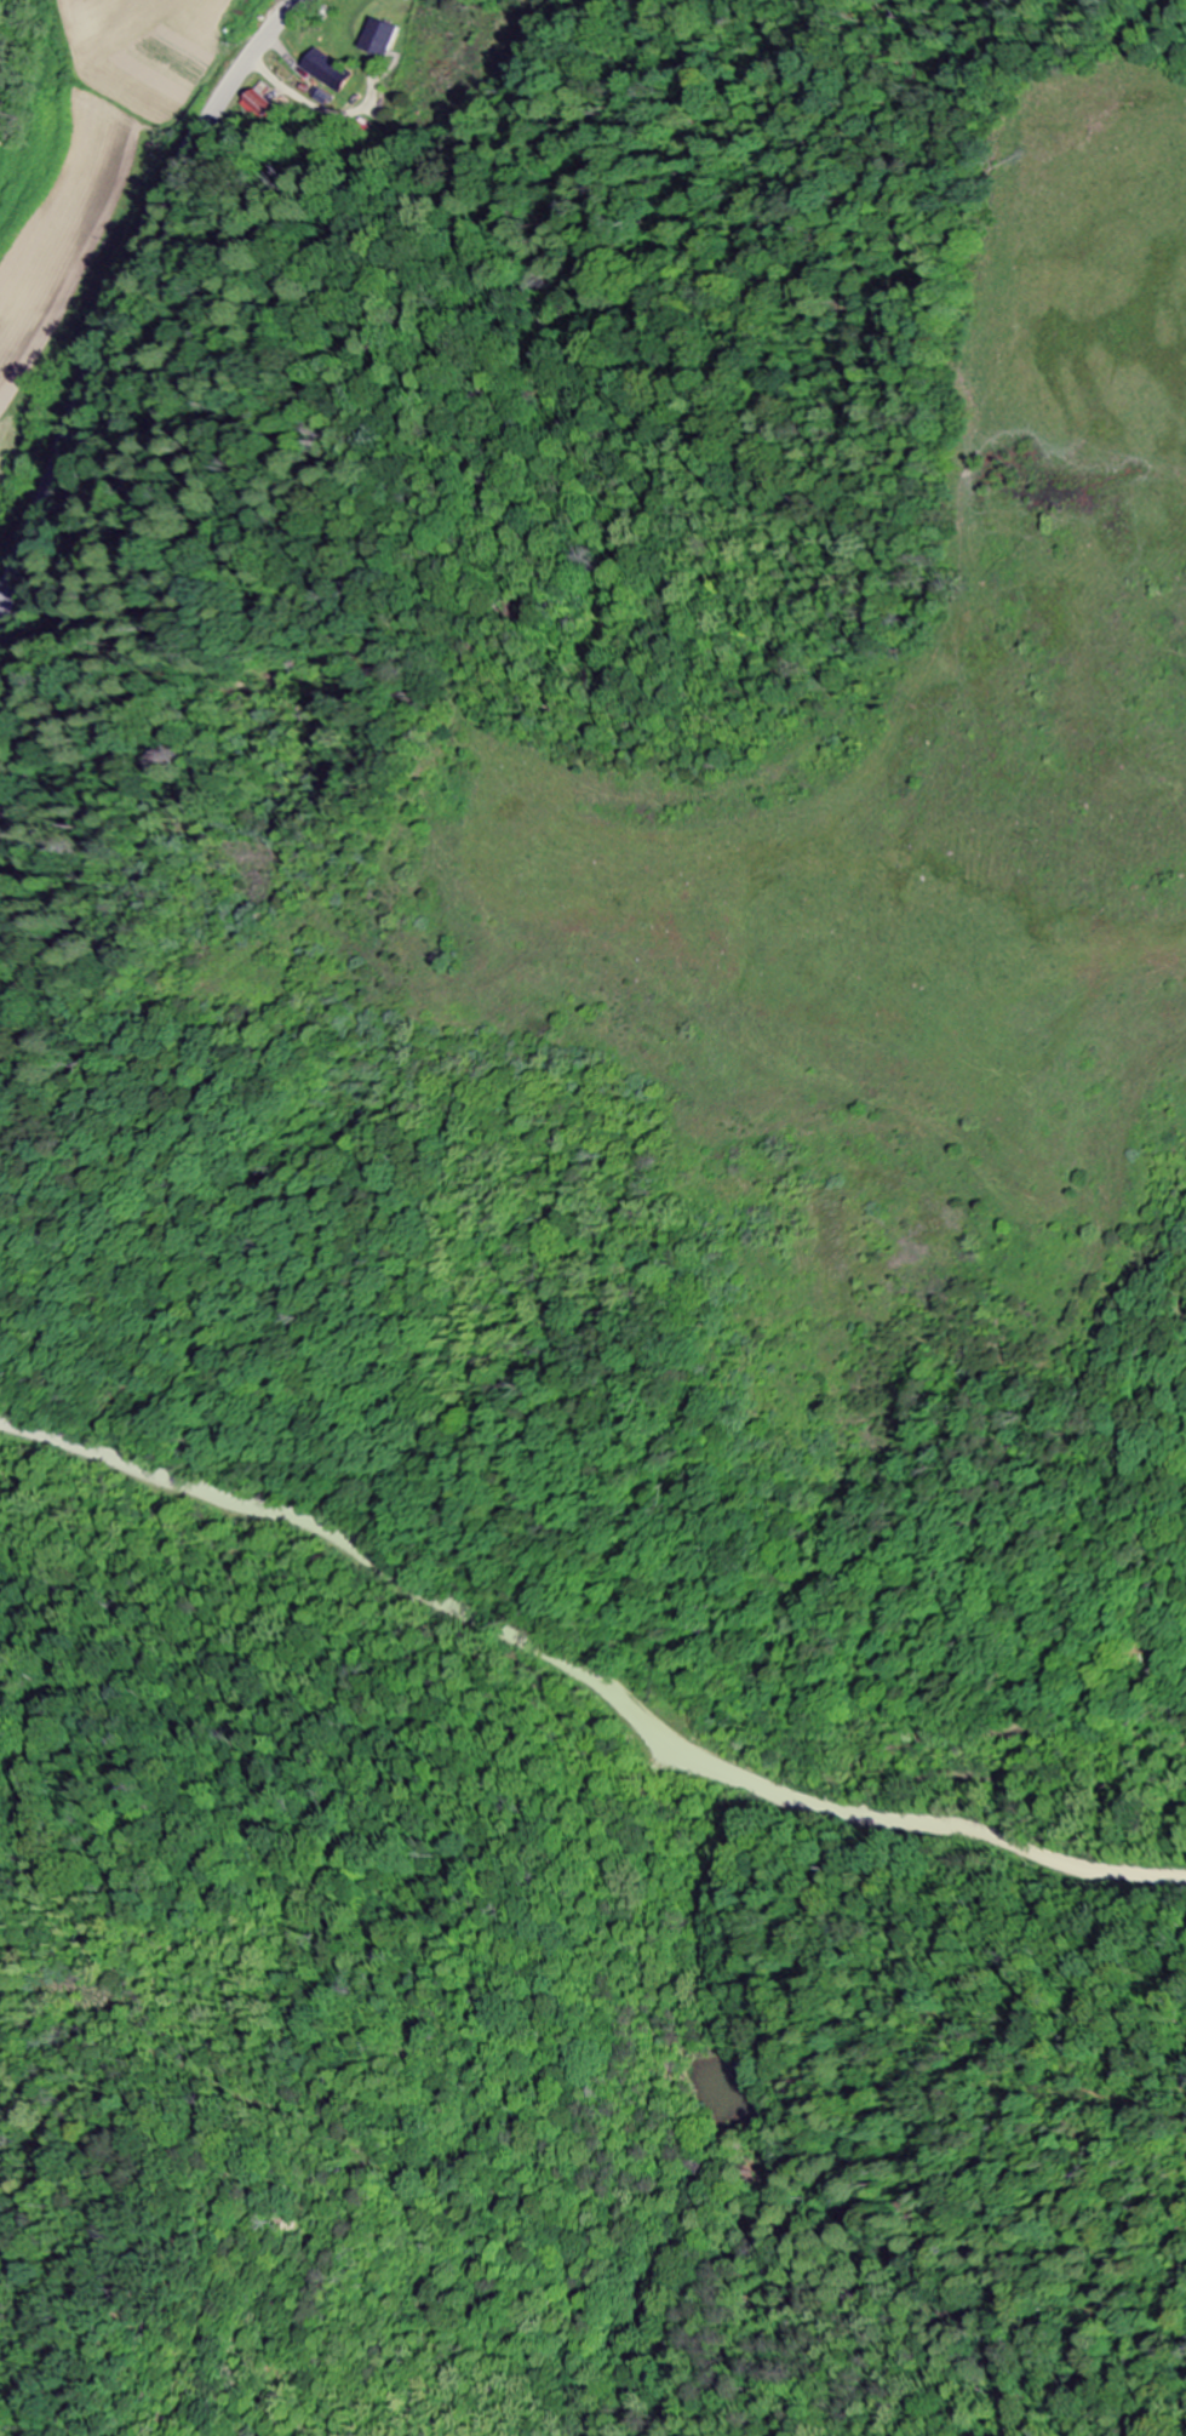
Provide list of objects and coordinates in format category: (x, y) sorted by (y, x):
building: (382, 40)
building: (327, 72)
building: (259, 108)
road: (125, 292)
road: (572, 1700)

